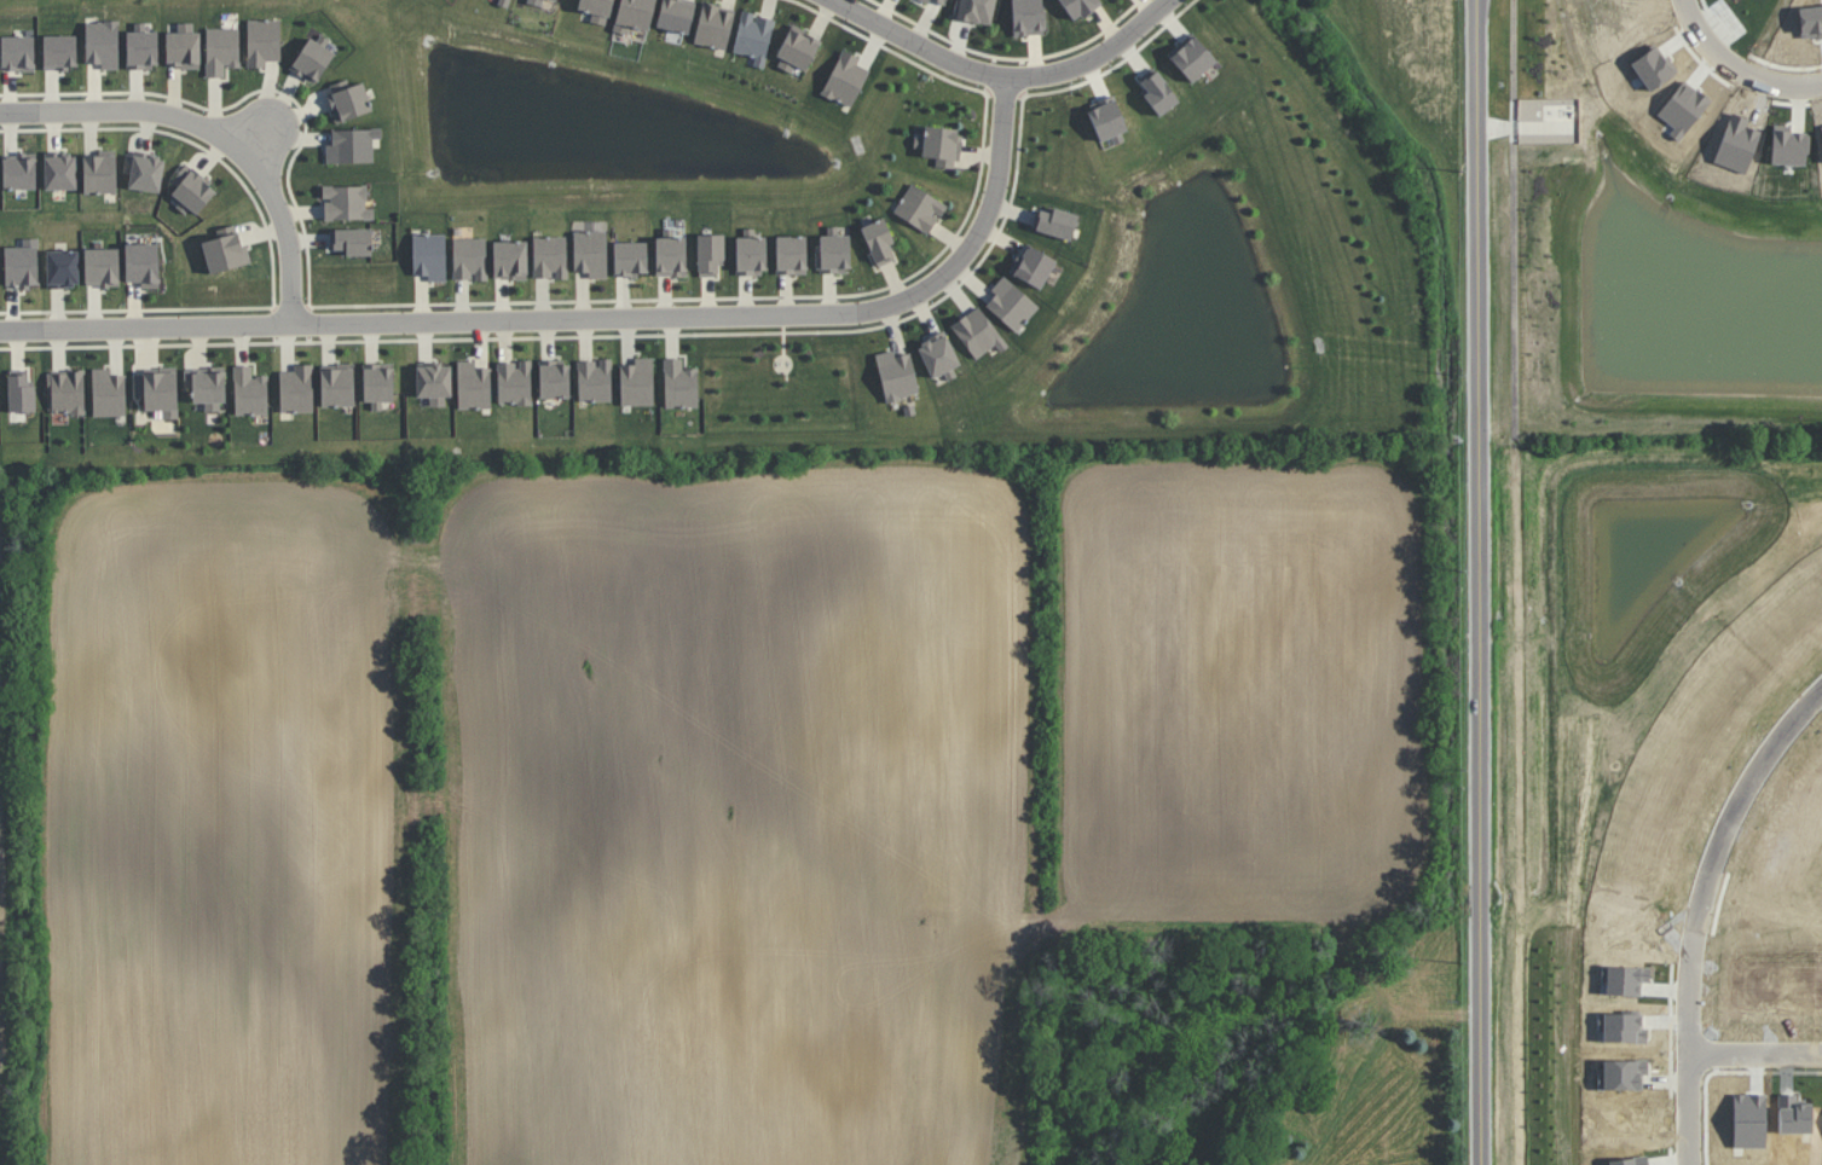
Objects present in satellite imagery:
building: (553, 0)
building: (925, 0)
building: (533, 1)
building: (941, 1)
building: (504, 2)
building: (1078, 6)
building: (596, 8)
building: (976, 10)
building: (676, 13)
building: (632, 15)
building: (1026, 17)
building: (713, 25)
building: (753, 36)
building: (262, 41)
building: (102, 42)
building: (183, 45)
building: (141, 46)
building: (796, 48)
building: (220, 50)
building: (59, 51)
building: (17, 52)
building: (1192, 57)
building: (312, 58)
road: (1742, 66)
building: (845, 79)
road: (1005, 79)
building: (1157, 92)
building: (348, 102)
building: (1106, 117)
road: (220, 128)
building: (351, 144)
building: (941, 145)
building: (59, 169)
building: (143, 170)
building: (18, 172)
building: (99, 172)
building: (190, 189)
building: (345, 202)
building: (919, 208)
building: (1055, 221)
building: (352, 240)
building: (879, 242)
building: (225, 250)
building: (832, 250)
building: (590, 253)
building: (708, 253)
building: (669, 254)
building: (750, 254)
building: (791, 254)
building: (428, 255)
building: (549, 256)
building: (469, 257)
building: (509, 259)
building: (630, 259)
building: (21, 263)
building: (141, 263)
building: (100, 266)
building: (1033, 266)
building: (62, 267)
building: (1010, 303)
road: (584, 321)
building: (977, 331)
building: (937, 355)
building: (896, 375)
building: (554, 378)
building: (594, 379)
building: (636, 381)
building: (514, 382)
building: (377, 383)
building: (433, 383)
building: (678, 383)
building: (336, 384)
building: (473, 384)
building: (206, 387)
building: (296, 388)
building: (157, 389)
building: (249, 390)
building: (19, 392)
building: (66, 392)
building: (108, 392)
road: (1480, 582)
road: (1697, 914)
road: (1756, 1056)

